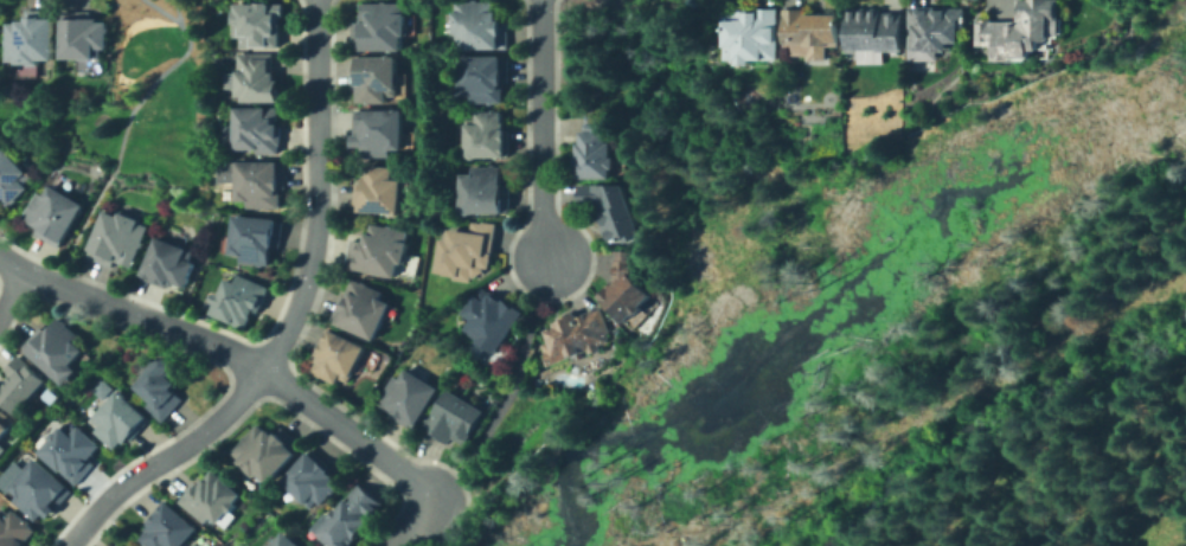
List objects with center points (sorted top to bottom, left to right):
building: (254, 24)
building: (475, 24)
building: (376, 26)
building: (810, 27)
building: (904, 27)
building: (1021, 27)
building: (81, 32)
building: (749, 33)
building: (31, 37)
building: (251, 77)
building: (373, 77)
building: (479, 77)
building: (251, 129)
road: (541, 130)
building: (374, 131)
building: (483, 136)
building: (589, 149)
building: (11, 178)
building: (254, 184)
building: (376, 190)
building: (481, 190)
building: (608, 207)
building: (52, 212)
building: (116, 237)
building: (251, 237)
building: (376, 250)
building: (463, 250)
building: (166, 263)
building: (623, 287)
road: (11, 294)
building: (236, 300)
building: (359, 309)
building: (488, 317)
road: (290, 319)
building: (573, 336)
building: (56, 347)
road: (232, 351)
building: (333, 358)
building: (23, 384)
building: (156, 386)
road: (505, 387)
building: (404, 396)
building: (451, 418)
building: (116, 419)
building: (5, 425)
building: (73, 449)
building: (262, 452)
building: (308, 477)
building: (40, 490)
building: (206, 499)
building: (346, 515)
road: (412, 523)
building: (17, 528)
building: (166, 528)
building: (281, 541)
building: (142, 544)
building: (109, 545)
building: (130, 545)
building: (300, 545)

